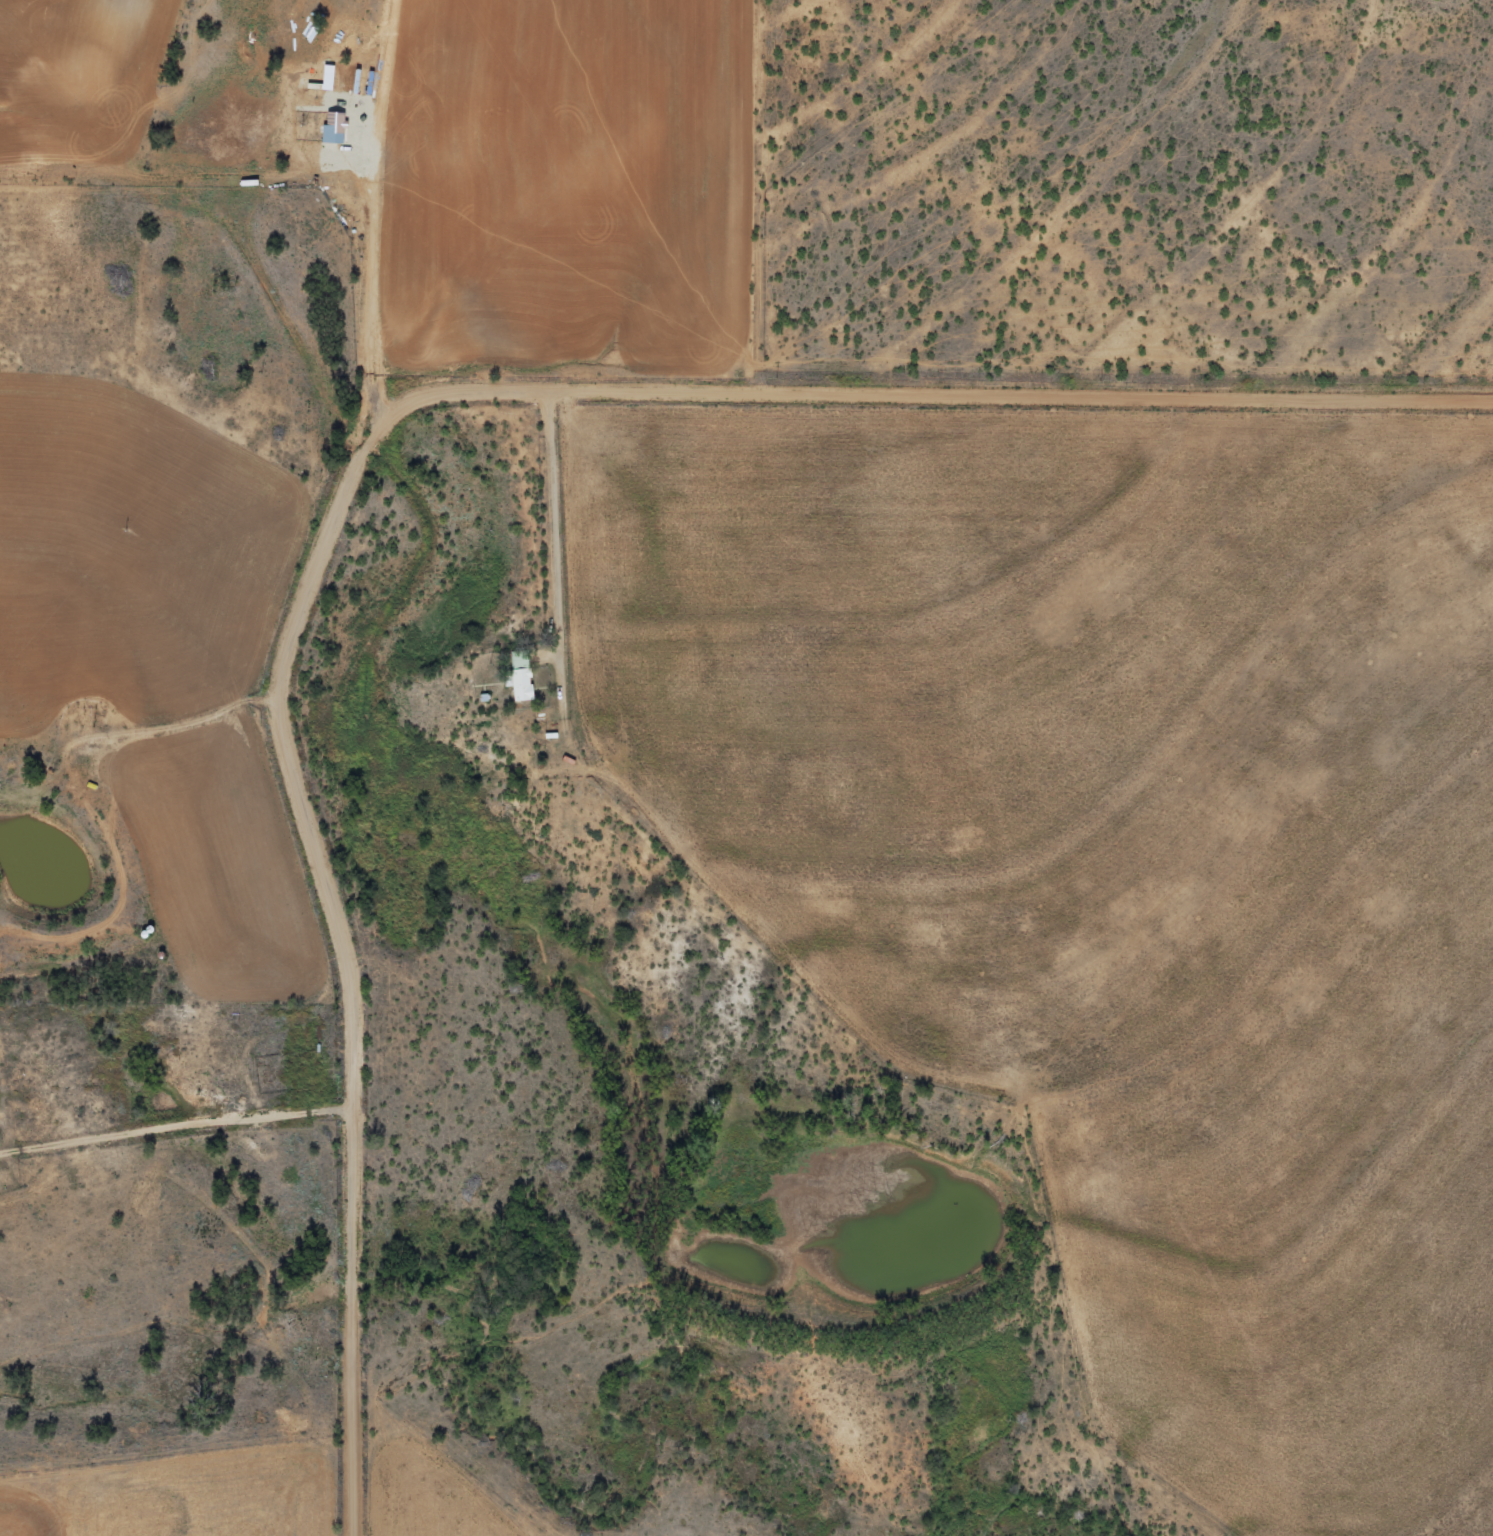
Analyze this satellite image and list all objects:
building: (338, 125)
road: (370, 249)
road: (935, 393)
road: (330, 412)
building: (525, 681)
road: (312, 840)
building: (0, 1129)
road: (177, 1204)
road: (354, 1409)

